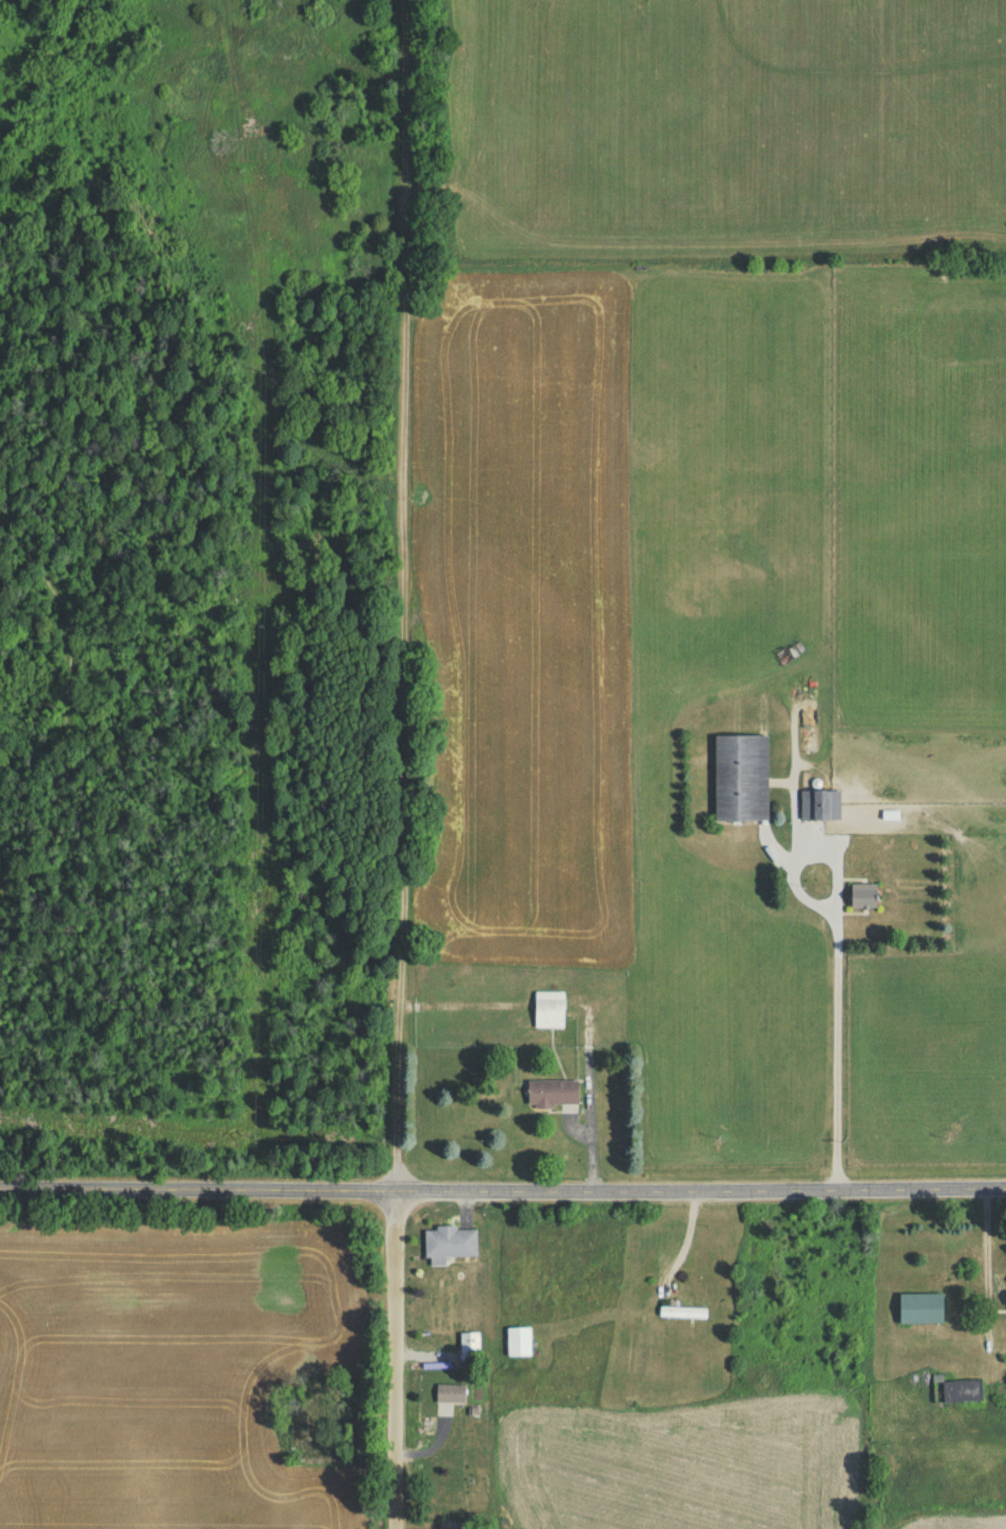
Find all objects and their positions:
park: (205, 589)
building: (738, 781)
building: (818, 808)
road: (793, 874)
building: (859, 899)
building: (546, 1014)
road: (838, 1024)
building: (550, 1096)
road: (502, 1196)
building: (447, 1248)
building: (917, 1312)
building: (679, 1316)
building: (516, 1345)
building: (467, 1349)
road: (393, 1363)
building: (959, 1395)
building: (448, 1397)
building: (445, 1527)

